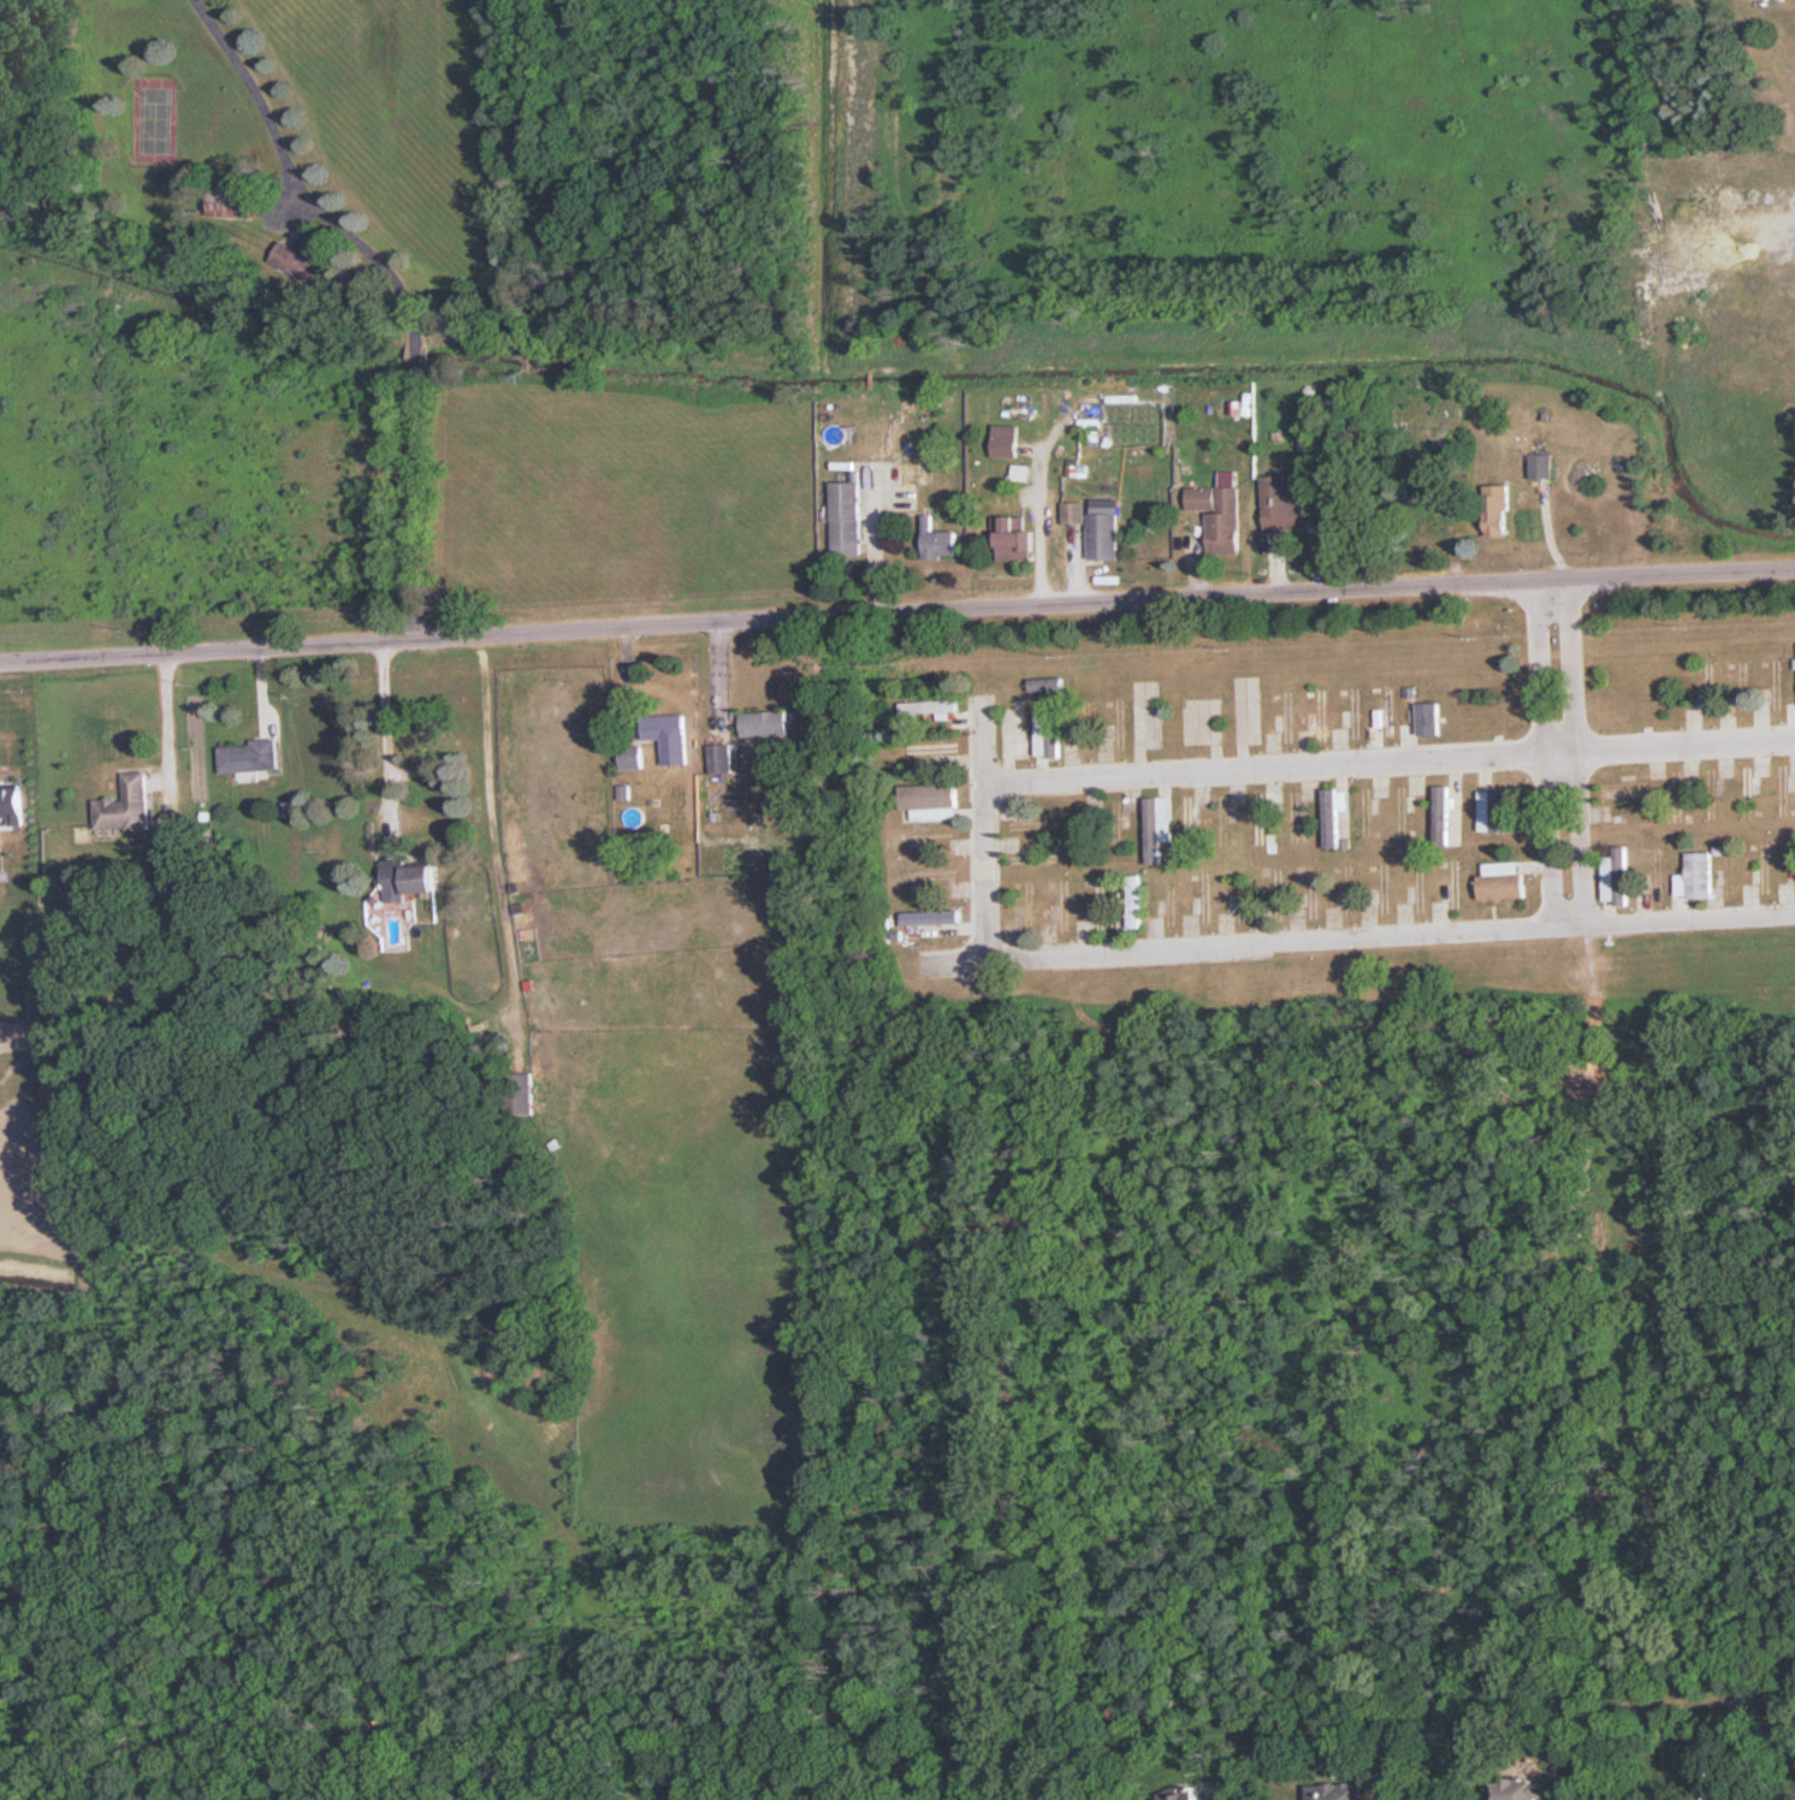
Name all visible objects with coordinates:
road: (294, 177)
building: (232, 201)
building: (302, 261)
road: (415, 350)
building: (1006, 440)
building: (1541, 466)
road: (414, 503)
building: (1285, 504)
building: (1497, 511)
building: (1074, 513)
building: (1219, 516)
building: (847, 517)
building: (1430, 527)
building: (1103, 535)
building: (1017, 539)
building: (940, 540)
road: (896, 616)
building: (928, 705)
building: (1322, 711)
building: (1148, 716)
building: (1429, 717)
road: (161, 720)
road: (378, 723)
building: (765, 723)
building: (664, 726)
building: (1013, 728)
building: (1047, 735)
building: (934, 750)
road: (1559, 754)
building: (632, 756)
building: (249, 757)
building: (719, 758)
road: (1388, 763)
building: (1748, 788)
building: (929, 797)
building: (126, 804)
building: (1487, 810)
building: (1334, 817)
building: (1445, 817)
building: (1506, 817)
building: (1187, 819)
building: (1264, 819)
road: (982, 828)
building: (1151, 830)
building: (1696, 876)
building: (410, 877)
building: (1616, 877)
building: (1504, 880)
building: (1098, 900)
building: (1133, 900)
road: (1356, 937)
building: (519, 1093)
building: (1518, 1789)
building: (1337, 1792)
building: (1192, 1793)

